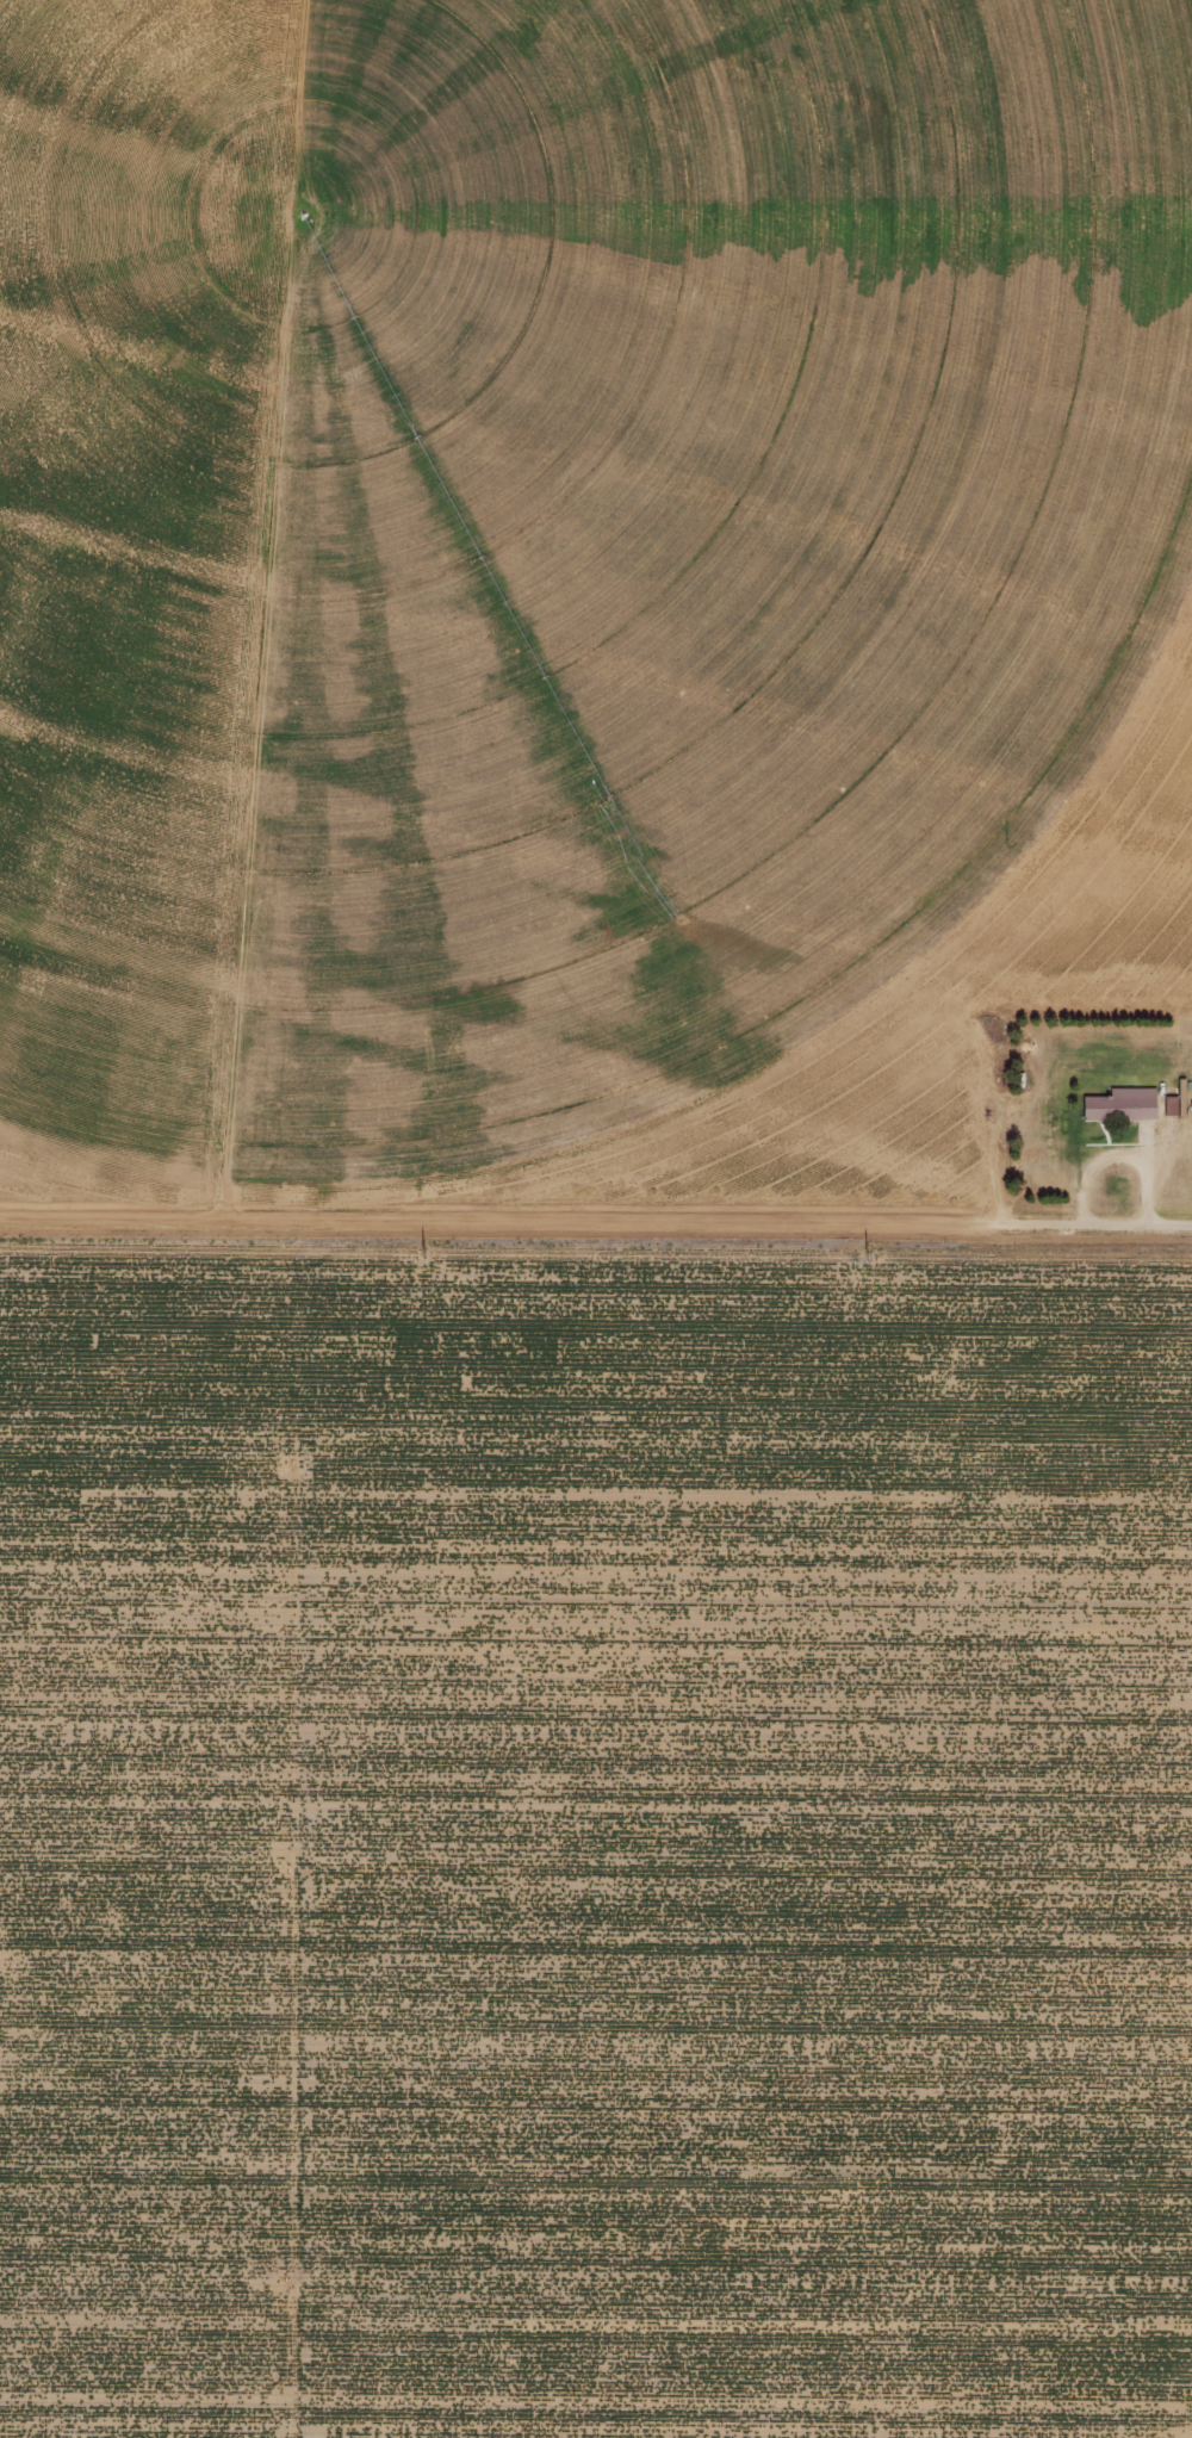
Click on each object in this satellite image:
road: (1113, 1156)
road: (596, 1236)
power tower: (420, 1254)
power tower: (861, 1254)

